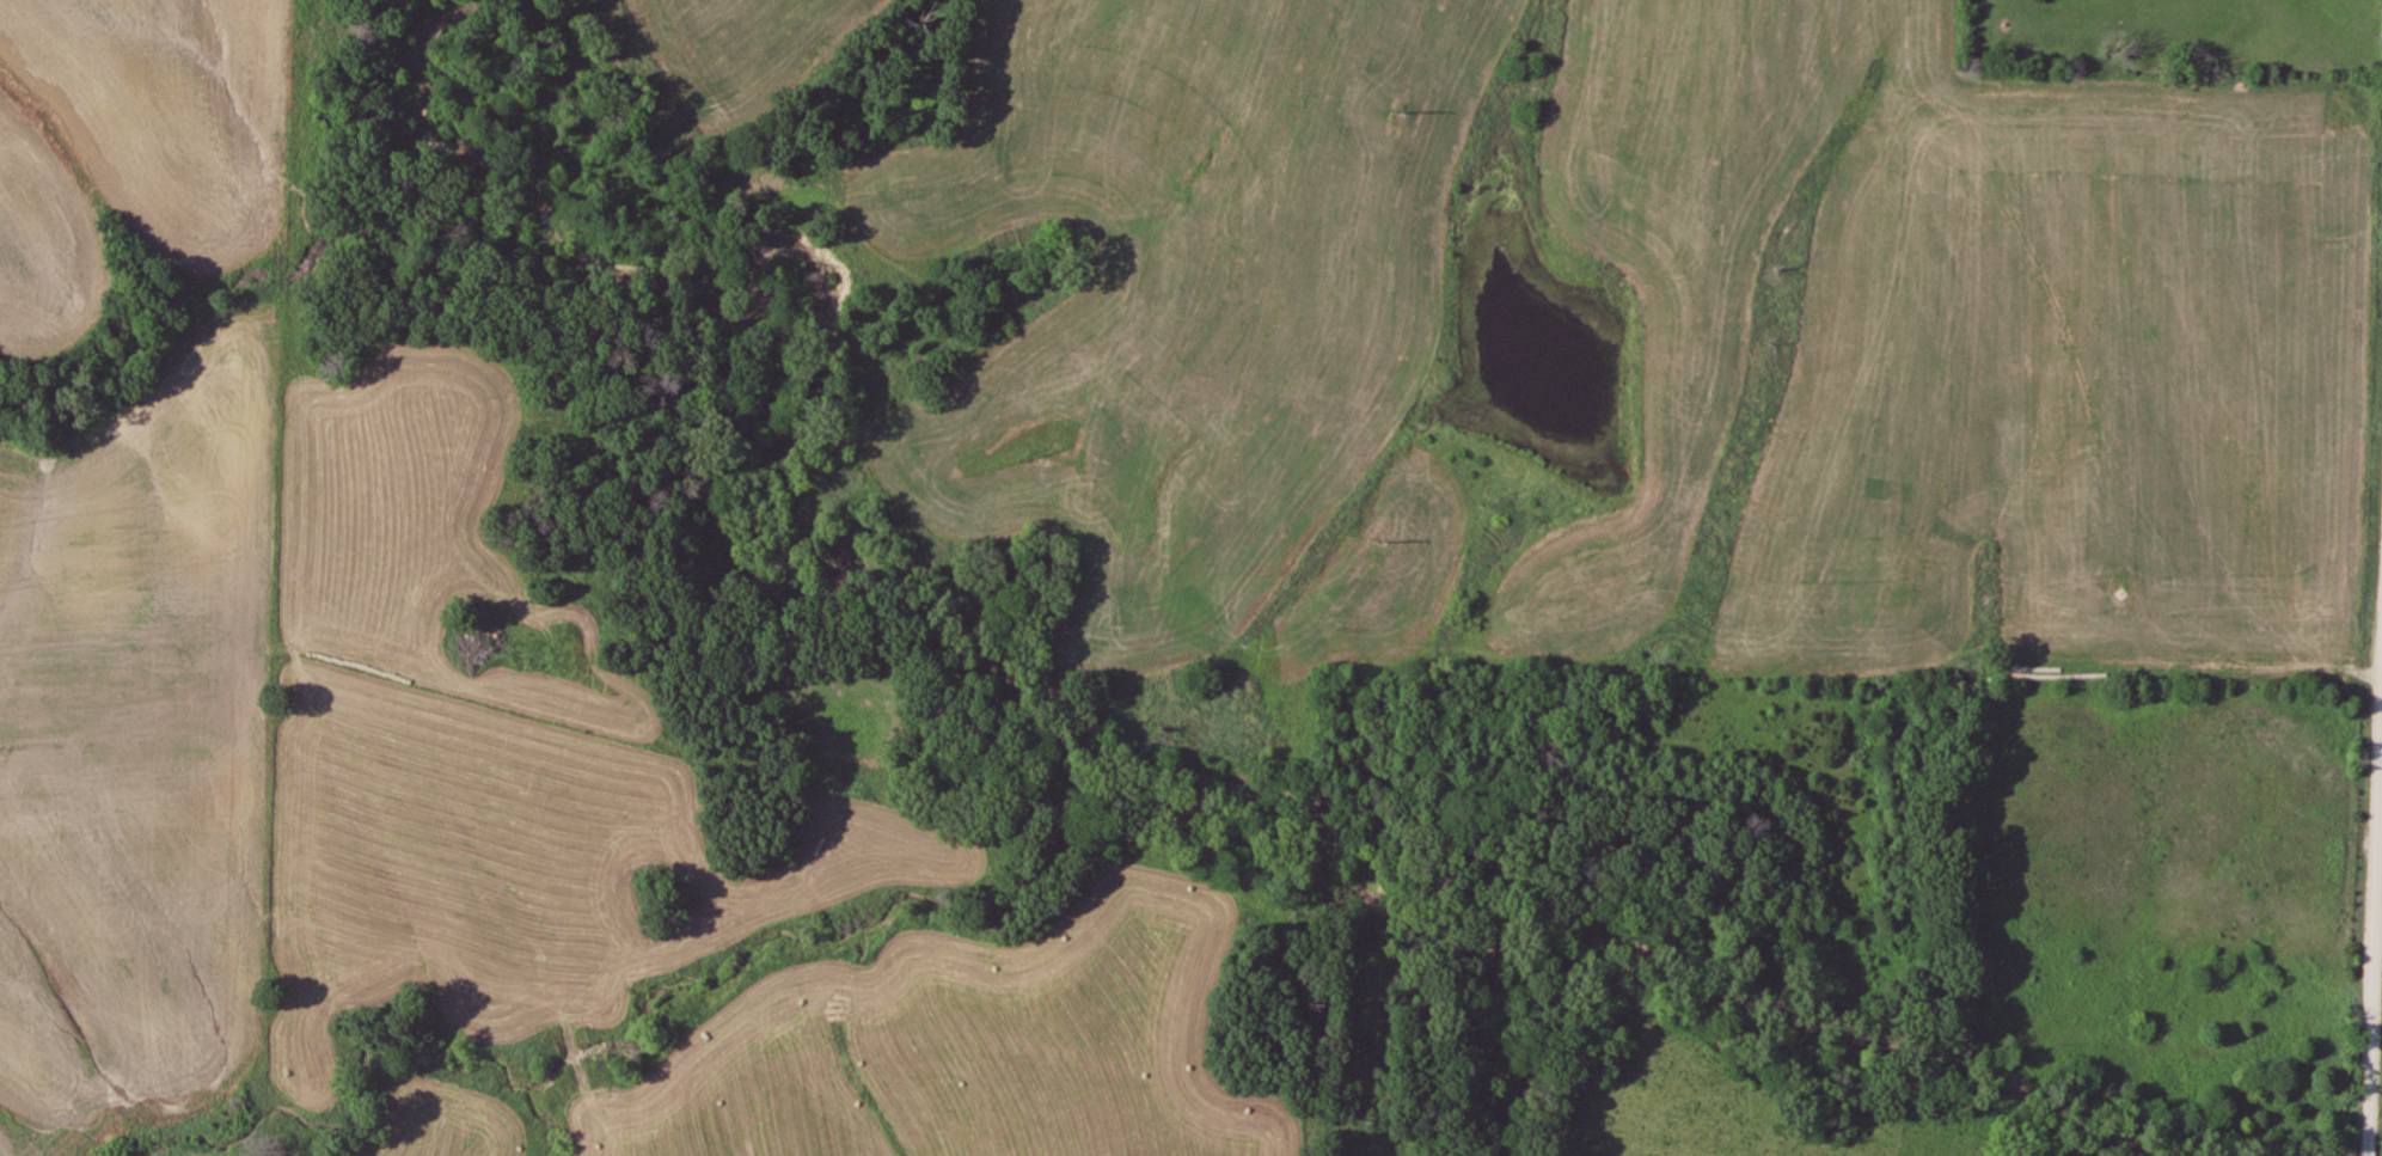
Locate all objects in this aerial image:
road: (2372, 897)

